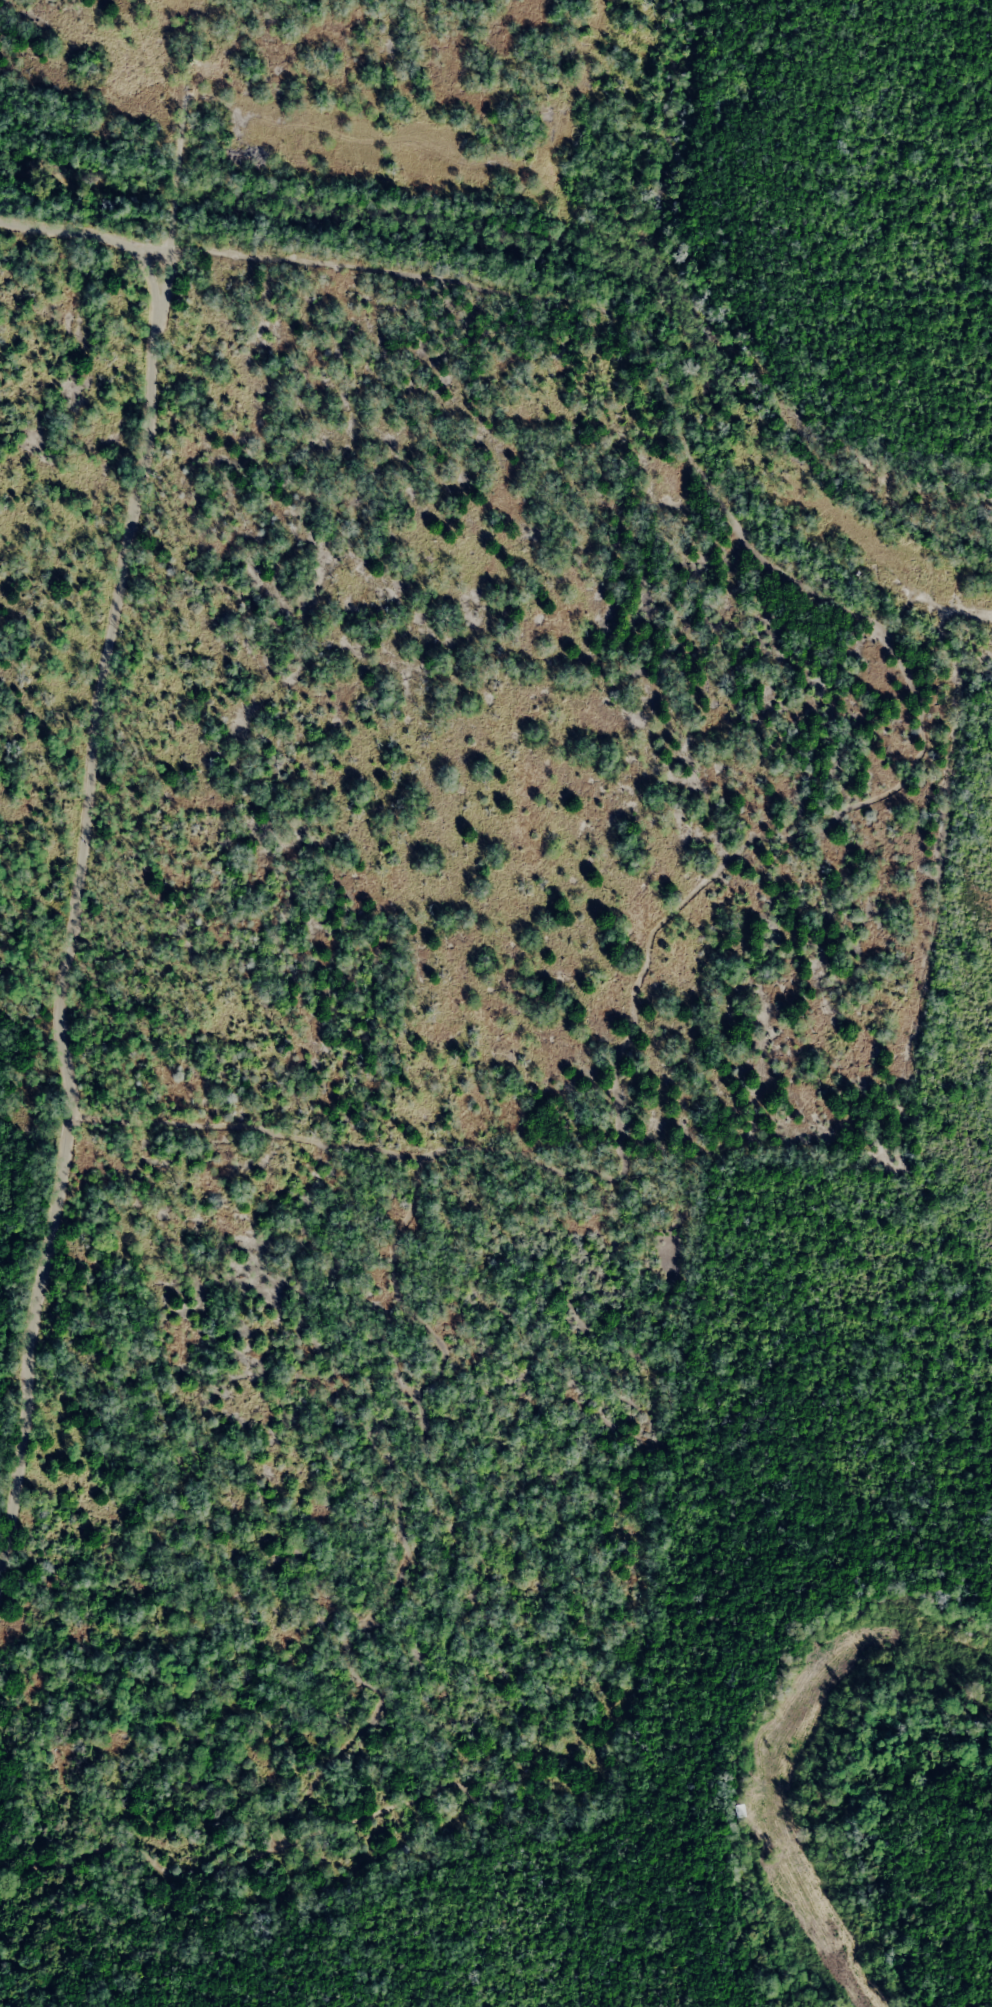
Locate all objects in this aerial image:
road: (96, 704)

